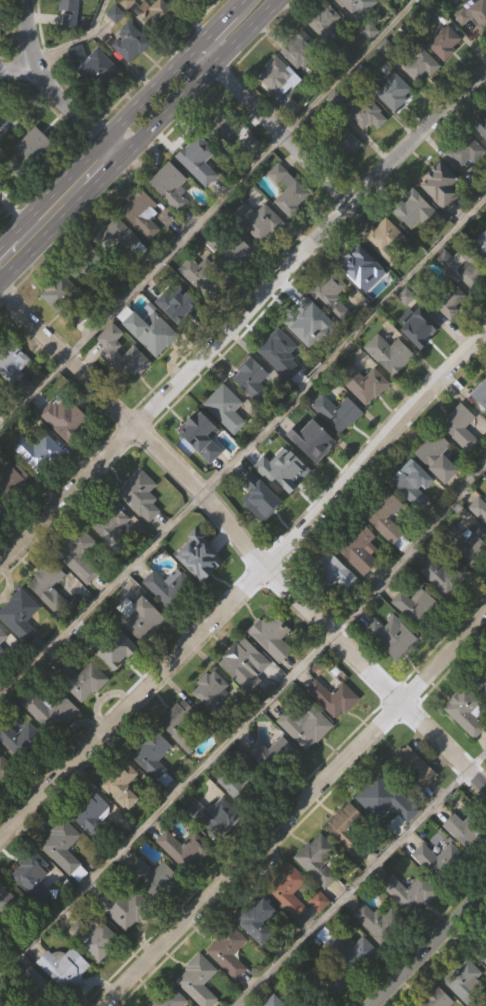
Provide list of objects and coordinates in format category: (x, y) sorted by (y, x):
building: (386, 1)
building: (457, 1)
building: (181, 2)
building: (428, 2)
road: (234, 3)
building: (206, 5)
building: (359, 7)
building: (162, 10)
building: (473, 15)
building: (69, 20)
building: (324, 20)
road: (211, 26)
building: (353, 27)
building: (130, 41)
building: (444, 43)
building: (160, 46)
building: (475, 46)
building: (298, 47)
building: (325, 52)
building: (0, 58)
road: (19, 65)
building: (421, 65)
building: (96, 69)
building: (131, 73)
building: (446, 74)
road: (198, 79)
building: (299, 79)
building: (79, 85)
building: (282, 88)
road: (54, 90)
building: (394, 92)
building: (422, 96)
building: (99, 101)
building: (280, 107)
building: (367, 114)
building: (11, 121)
building: (226, 122)
building: (395, 123)
building: (481, 126)
road: (269, 127)
road: (101, 141)
building: (343, 143)
building: (36, 145)
building: (368, 145)
building: (465, 150)
building: (4, 157)
building: (482, 157)
building: (222, 158)
building: (198, 160)
road: (108, 172)
building: (347, 173)
building: (34, 177)
building: (442, 184)
building: (466, 184)
building: (170, 185)
building: (199, 191)
building: (288, 192)
road: (12, 209)
building: (415, 212)
building: (141, 213)
road: (207, 214)
building: (171, 217)
building: (441, 217)
building: (258, 220)
building: (290, 222)
road: (48, 233)
building: (119, 237)
building: (386, 239)
road: (5, 240)
building: (415, 241)
building: (143, 245)
building: (232, 249)
building: (484, 249)
building: (258, 251)
building: (358, 259)
building: (464, 265)
building: (85, 266)
building: (117, 268)
building: (386, 269)
building: (204, 276)
building: (485, 276)
building: (238, 280)
building: (330, 296)
building: (62, 298)
building: (363, 300)
building: (450, 300)
building: (175, 302)
building: (202, 306)
road: (242, 318)
building: (60, 323)
building: (305, 324)
building: (332, 327)
building: (149, 329)
building: (421, 329)
building: (452, 333)
building: (179, 335)
building: (111, 349)
building: (390, 352)
building: (280, 353)
building: (308, 353)
building: (12, 359)
building: (422, 360)
building: (153, 362)
building: (254, 380)
building: (364, 382)
building: (122, 384)
building: (282, 385)
building: (390, 385)
building: (14, 393)
building: (480, 393)
building: (225, 407)
building: (253, 410)
building: (337, 410)
building: (367, 416)
building: (64, 417)
building: (460, 426)
building: (480, 426)
building: (201, 434)
building: (227, 439)
building: (311, 439)
building: (338, 444)
building: (66, 448)
building: (37, 450)
road: (244, 451)
building: (435, 454)
building: (461, 458)
building: (202, 467)
building: (313, 471)
building: (282, 473)
building: (12, 477)
building: (39, 483)
building: (412, 483)
building: (438, 488)
building: (140, 494)
building: (259, 497)
building: (284, 502)
building: (479, 507)
building: (2, 510)
building: (385, 514)
building: (413, 514)
building: (109, 523)
building: (141, 526)
building: (261, 529)
road: (242, 541)
building: (385, 541)
building: (467, 542)
building: (358, 545)
building: (79, 555)
building: (114, 559)
building: (200, 560)
building: (393, 565)
building: (332, 572)
building: (445, 573)
building: (468, 573)
building: (361, 580)
building: (49, 584)
road: (245, 584)
building: (82, 587)
building: (170, 587)
building: (201, 587)
building: (337, 602)
building: (417, 605)
building: (445, 605)
building: (48, 610)
building: (20, 614)
building: (142, 619)
building: (170, 619)
building: (274, 635)
building: (417, 636)
building: (2, 637)
building: (392, 637)
building: (21, 646)
building: (142, 648)
building: (112, 649)
building: (2, 662)
building: (242, 663)
building: (392, 666)
building: (483, 666)
building: (273, 667)
building: (80, 679)
building: (117, 680)
building: (213, 693)
building: (246, 695)
building: (333, 697)
building: (466, 708)
building: (50, 711)
building: (84, 711)
building: (481, 715)
building: (214, 721)
road: (244, 723)
building: (182, 725)
building: (306, 726)
building: (334, 728)
building: (20, 739)
building: (51, 742)
building: (466, 743)
building: (152, 755)
building: (275, 755)
building: (182, 756)
building: (307, 756)
building: (408, 768)
building: (6, 770)
building: (121, 783)
building: (274, 785)
building: (155, 787)
building: (237, 787)
building: (413, 794)
building: (5, 798)
building: (377, 798)
road: (297, 809)
building: (239, 814)
building: (91, 815)
building: (123, 817)
building: (215, 818)
building: (463, 822)
building: (347, 828)
building: (378, 834)
building: (92, 844)
building: (62, 845)
building: (217, 845)
building: (184, 848)
building: (348, 858)
building: (430, 861)
building: (466, 861)
building: (320, 863)
building: (30, 875)
building: (64, 877)
building: (153, 878)
road: (361, 878)
building: (185, 879)
building: (289, 890)
building: (318, 891)
building: (411, 892)
building: (123, 905)
building: (34, 907)
building: (154, 908)
building: (8, 915)
building: (257, 919)
building: (289, 921)
building: (381, 922)
building: (411, 924)
building: (319, 931)
building: (126, 938)
building: (94, 939)
road: (429, 949)
building: (228, 950)
building: (346, 950)
building: (482, 951)
building: (261, 952)
building: (378, 952)
building: (64, 967)
building: (0, 969)
building: (99, 971)
building: (197, 980)
building: (321, 981)
building: (465, 982)
building: (229, 983)
building: (352, 983)
building: (483, 985)
building: (40, 990)
building: (66, 995)
building: (170, 998)
building: (437, 998)
building: (289, 1001)
building: (335, 1003)

